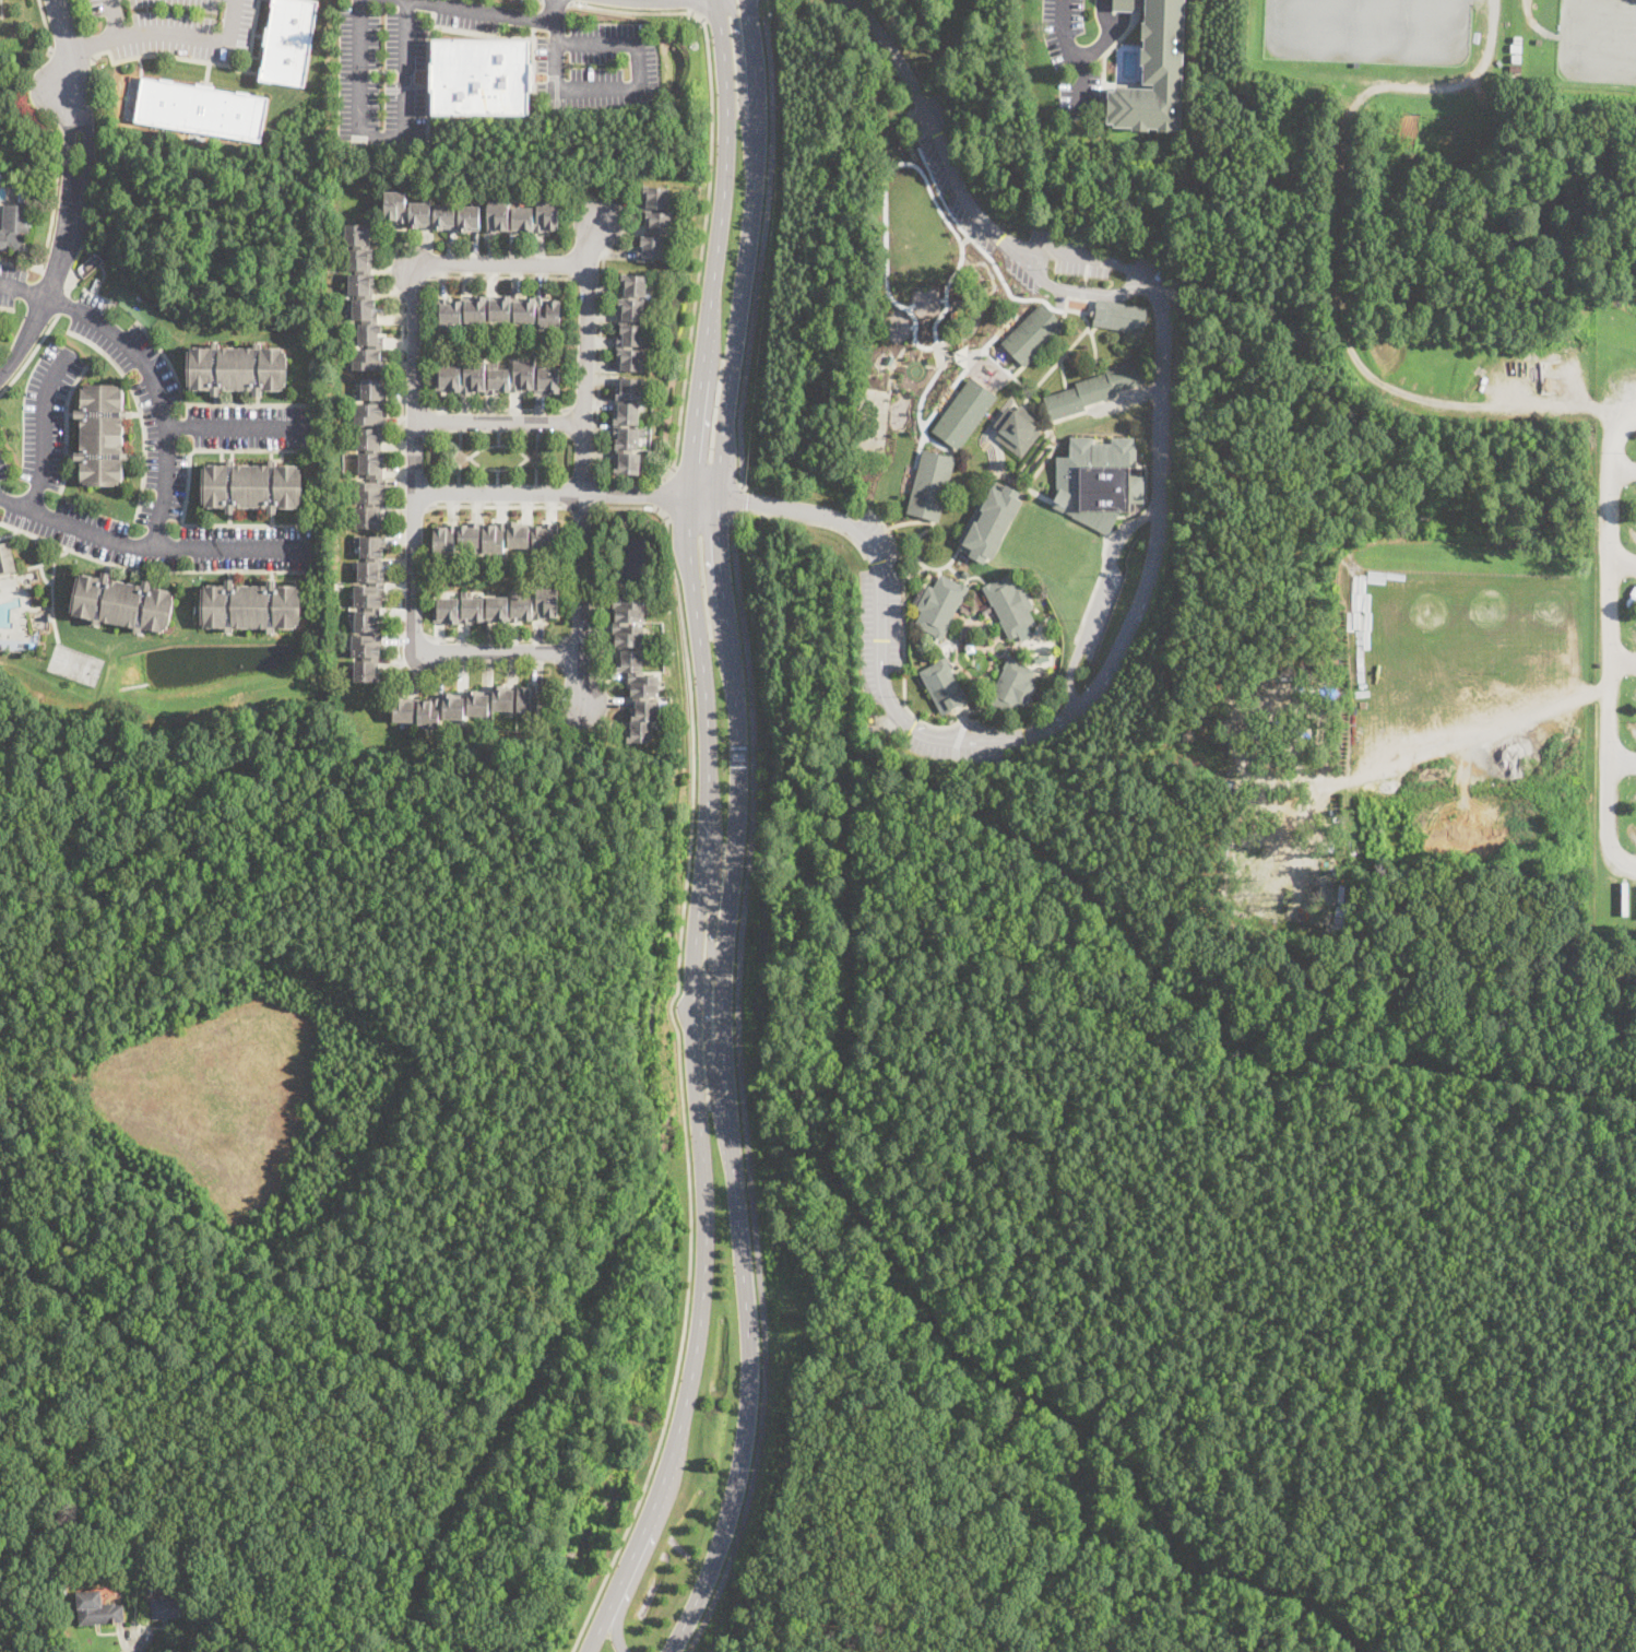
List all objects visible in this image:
road: (564, 0)
road: (692, 5)
building: (1123, 5)
road: (553, 11)
road: (496, 12)
parking lot: (467, 14)
road: (1118, 17)
road: (1492, 20)
road: (46, 26)
parking lot: (177, 26)
road: (176, 31)
road: (1059, 34)
building: (1517, 38)
building: (288, 40)
road: (91, 42)
road: (251, 43)
parking lot: (1080, 47)
building: (1516, 48)
road: (66, 50)
road: (167, 55)
road: (1087, 55)
building: (1516, 59)
parking lot: (597, 67)
building: (1515, 69)
building: (1154, 72)
parking lot: (380, 75)
building: (481, 75)
road: (742, 75)
road: (638, 91)
building: (202, 108)
road: (381, 133)
building: (1, 178)
road: (709, 185)
building: (24, 193)
road: (51, 213)
building: (429, 214)
building: (522, 217)
building: (654, 225)
building: (13, 226)
road: (762, 243)
road: (66, 246)
road: (503, 265)
building: (360, 273)
road: (502, 275)
road: (589, 276)
parking lot: (10, 283)
building: (110, 283)
road: (416, 285)
road: (1075, 287)
building: (498, 309)
building: (1129, 317)
building: (631, 321)
building: (1033, 334)
building: (872, 341)
building: (368, 349)
road: (31, 354)
road: (600, 363)
building: (237, 369)
road: (149, 373)
building: (498, 378)
building: (1092, 391)
parking lot: (142, 402)
road: (415, 408)
road: (499, 409)
road: (582, 410)
building: (964, 414)
parking lot: (46, 415)
road: (499, 422)
building: (627, 425)
parking lot: (245, 426)
road: (236, 428)
road: (44, 429)
building: (1018, 429)
building: (100, 435)
road: (1614, 438)
building: (370, 451)
road: (415, 457)
road: (583, 462)
road: (1621, 467)
parking lot: (2, 470)
road: (708, 474)
road: (401, 480)
building: (1099, 481)
building: (930, 485)
building: (251, 486)
road: (567, 492)
road: (595, 492)
road: (662, 493)
road: (740, 498)
road: (414, 505)
road: (498, 506)
road: (580, 506)
road: (700, 515)
road: (808, 520)
building: (989, 521)
building: (495, 536)
parking lot: (158, 538)
road: (1153, 546)
road: (149, 547)
building: (7, 558)
road: (1622, 559)
road: (1095, 599)
building: (122, 603)
building: (1010, 605)
building: (250, 606)
building: (939, 606)
building: (497, 607)
building: (368, 609)
road: (594, 629)
road: (413, 636)
road: (496, 637)
road: (579, 637)
road: (498, 651)
building: (1042, 658)
road: (1622, 660)
park: (75, 663)
building: (635, 666)
road: (1608, 675)
building: (944, 686)
building: (1011, 686)
building: (979, 701)
building: (467, 705)
road: (1480, 724)
road: (1622, 763)
building: (1416, 829)
road: (736, 831)
road: (706, 834)
road: (712, 924)
road: (707, 1026)
road: (677, 1052)
road: (743, 1087)
building: (218, 1581)
road: (633, 1581)
building: (61, 1586)
building: (173, 1607)
building: (100, 1614)
road: (135, 1639)

